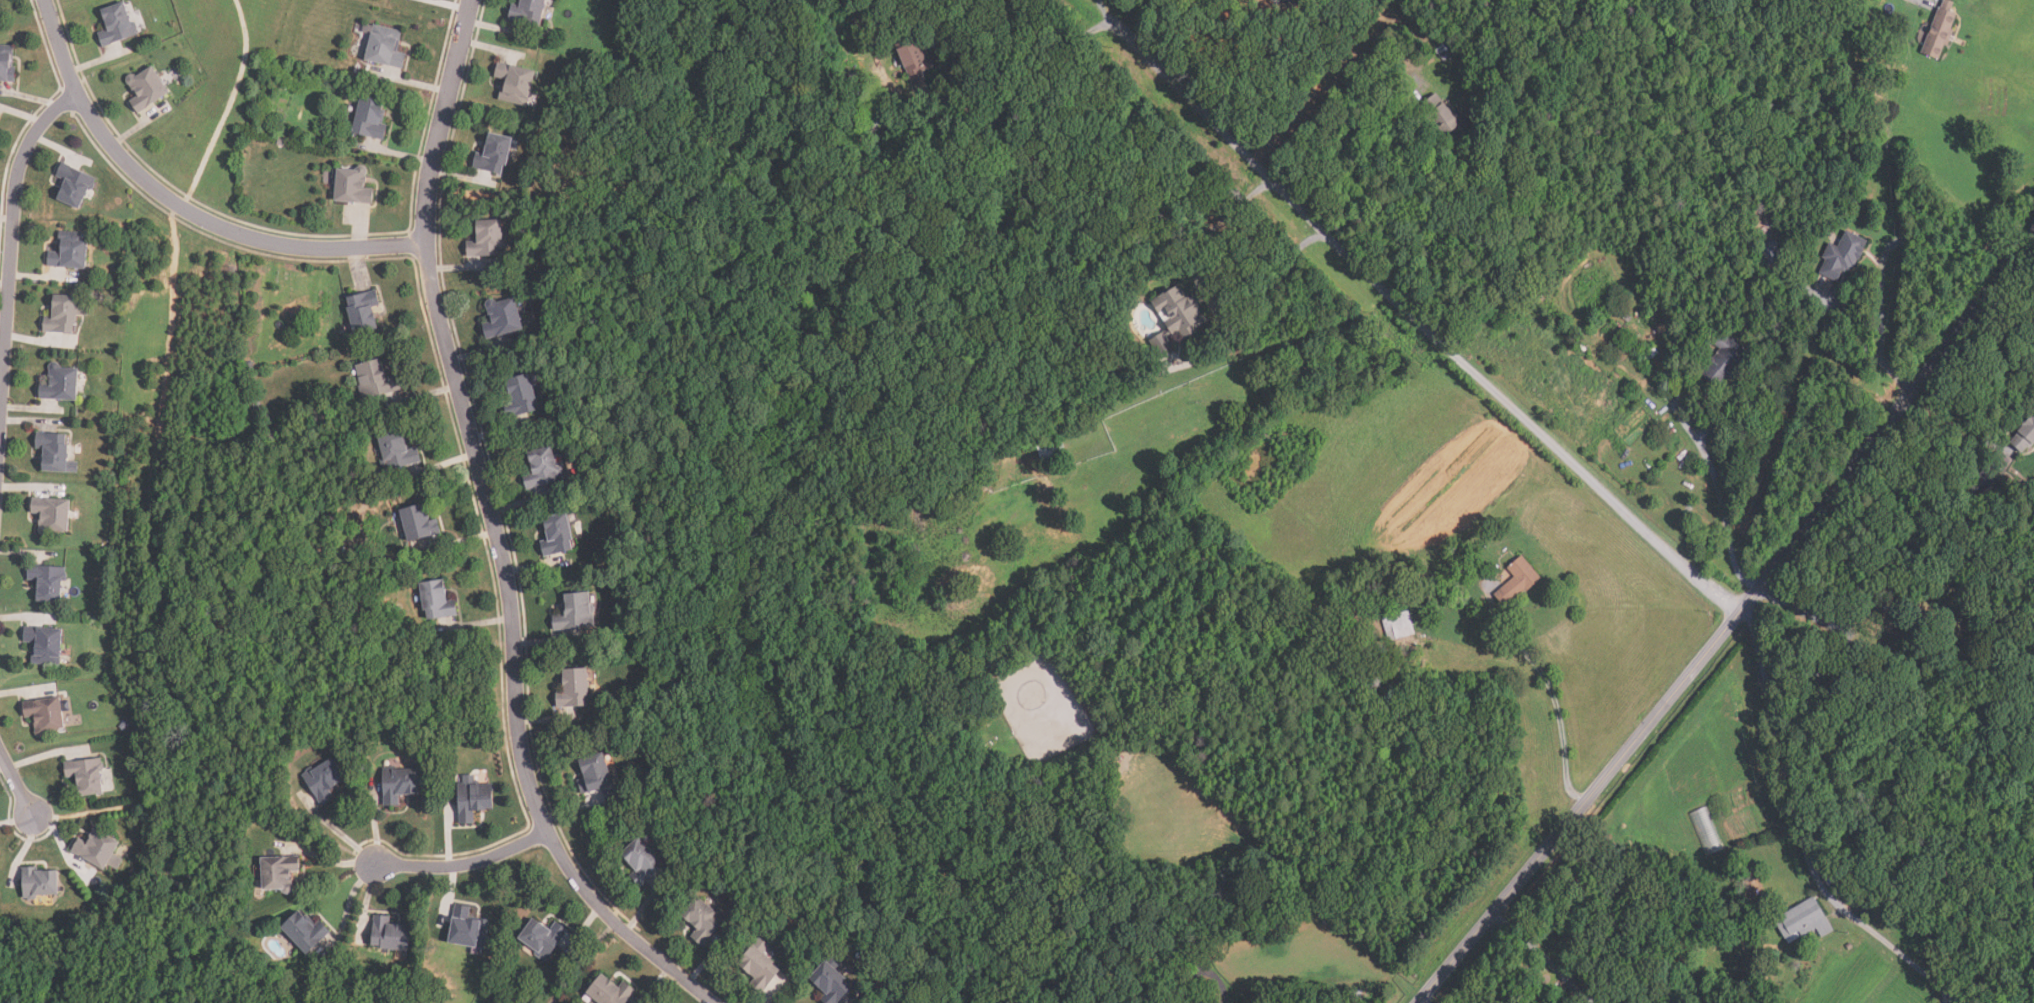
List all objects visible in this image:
building: (0, 0)
road: (1101, 8)
building: (528, 11)
building: (117, 24)
building: (1936, 31)
road: (1190, 35)
building: (386, 47)
building: (1443, 50)
road: (1022, 52)
building: (1446, 56)
building: (916, 58)
building: (6, 63)
building: (515, 82)
road: (1316, 83)
building: (147, 88)
building: (1447, 117)
building: (371, 118)
road: (1354, 129)
building: (495, 154)
building: (73, 185)
building: (354, 186)
road: (182, 206)
building: (485, 246)
building: (70, 251)
building: (1769, 254)
building: (1840, 256)
road: (13, 258)
road: (1883, 258)
road: (1196, 273)
road: (1271, 275)
building: (363, 311)
building: (62, 315)
building: (503, 316)
building: (1628, 317)
building: (1180, 318)
road: (1417, 320)
building: (1566, 332)
building: (1652, 354)
building: (1728, 359)
building: (376, 379)
building: (61, 382)
building: (520, 395)
road: (1972, 404)
road: (1952, 433)
building: (2023, 433)
building: (1052, 450)
building: (54, 451)
building: (397, 451)
road: (1704, 452)
building: (543, 468)
building: (1976, 485)
building: (52, 514)
building: (419, 523)
road: (497, 532)
building: (557, 535)
building: (1519, 580)
building: (47, 582)
building: (436, 601)
road: (1799, 611)
building: (575, 613)
building: (1879, 616)
road: (1731, 621)
building: (1434, 623)
building: (1400, 625)
building: (44, 644)
building: (1855, 662)
road: (1549, 687)
building: (575, 689)
building: (45, 715)
building: (1109, 760)
building: (594, 774)
building: (86, 776)
building: (324, 781)
road: (17, 785)
building: (399, 785)
building: (473, 798)
building: (1706, 831)
road: (1799, 834)
building: (99, 849)
road: (1281, 857)
building: (641, 862)
road: (464, 864)
building: (279, 873)
building: (1828, 880)
building: (40, 883)
building: (1801, 918)
building: (705, 919)
building: (468, 929)
building: (305, 933)
building: (390, 935)
building: (542, 938)
road: (1545, 959)
building: (761, 963)
building: (1137, 972)
road: (1202, 973)
building: (833, 982)
building: (610, 992)
building: (1353, 995)
building: (1883, 1000)

